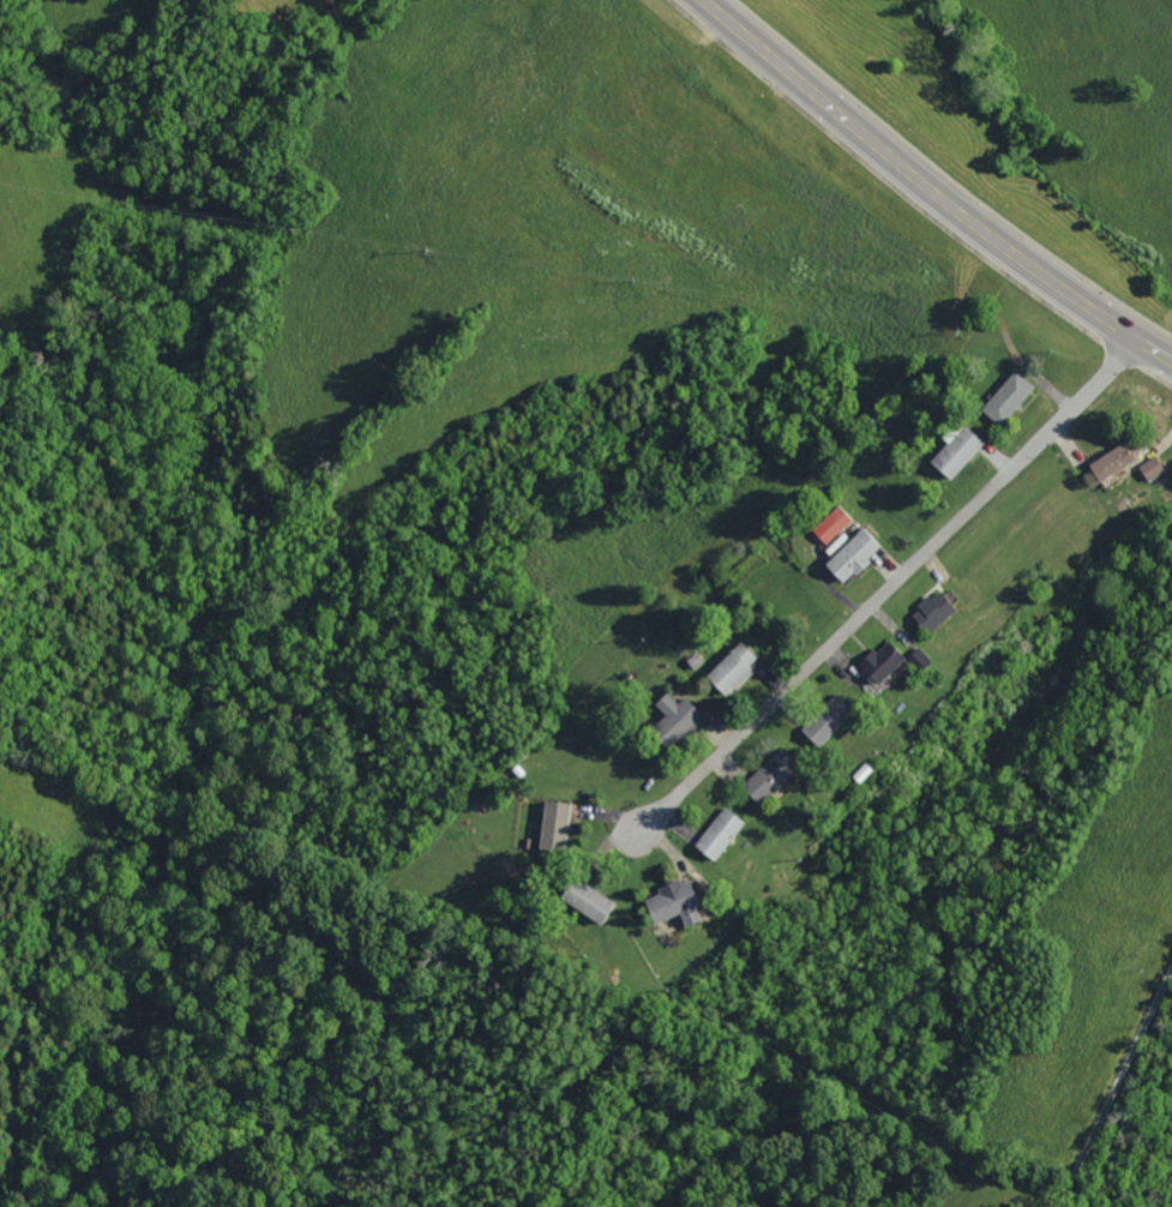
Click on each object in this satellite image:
road: (930, 188)
building: (1005, 397)
building: (954, 451)
building: (1108, 461)
building: (1149, 468)
building: (830, 524)
building: (852, 556)
road: (878, 577)
building: (931, 611)
building: (915, 660)
building: (878, 662)
building: (729, 669)
building: (673, 719)
building: (824, 720)
building: (767, 775)
building: (552, 825)
building: (715, 834)
building: (587, 902)
building: (671, 903)

